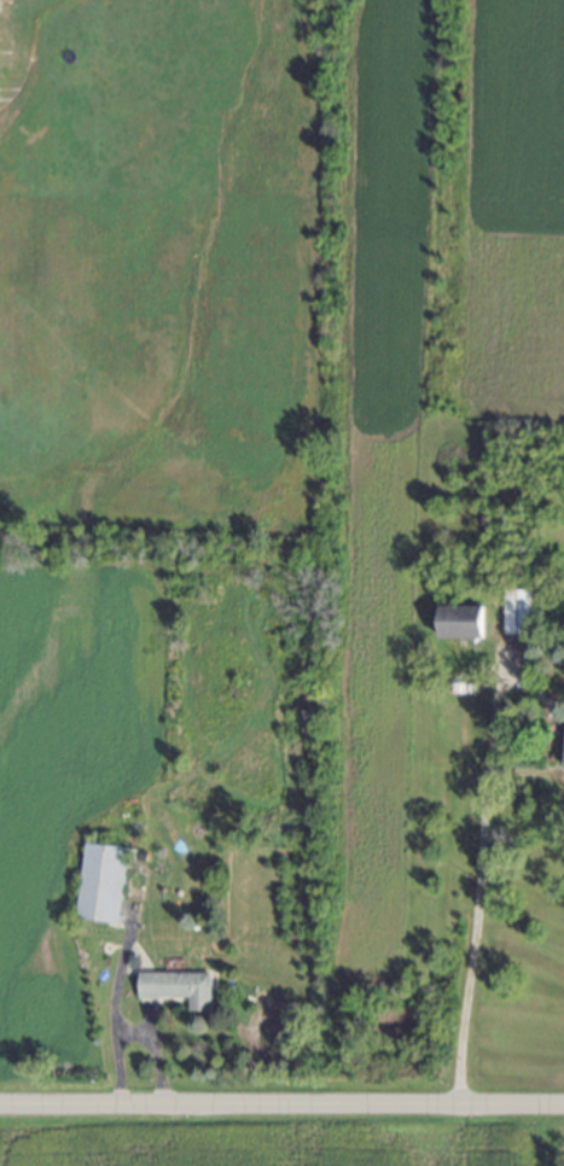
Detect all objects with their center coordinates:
crop: (281, 307)
building: (517, 612)
building: (461, 622)
road: (500, 698)
road: (535, 776)
building: (103, 882)
road: (472, 940)
building: (178, 987)
road: (281, 1104)
crop: (269, 1147)

